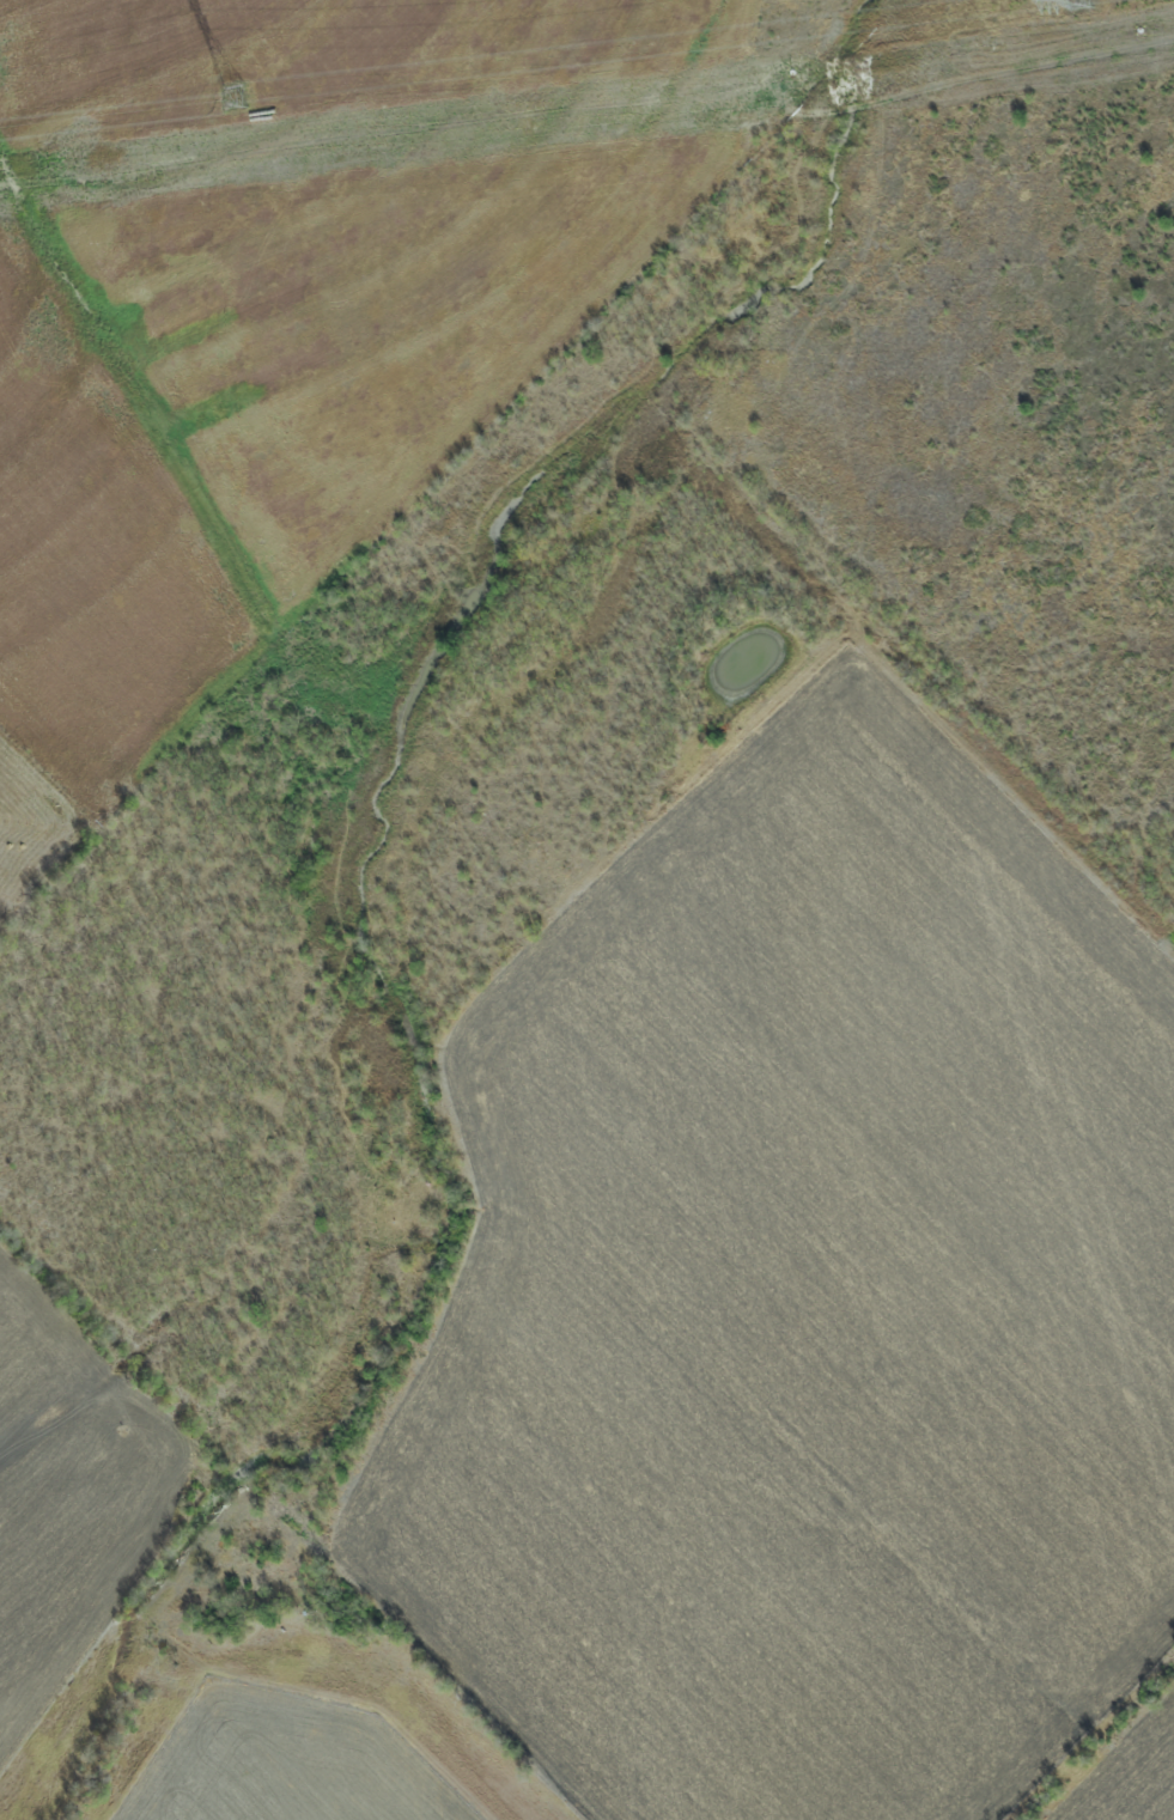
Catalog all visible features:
power tower: (236, 95)

